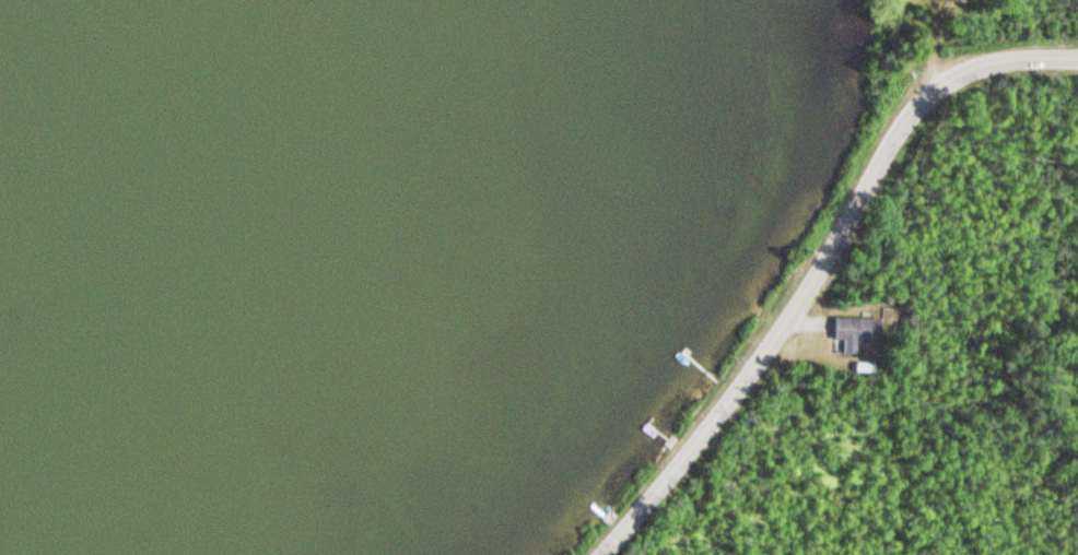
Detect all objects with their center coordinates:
road: (818, 265)
building: (852, 332)

